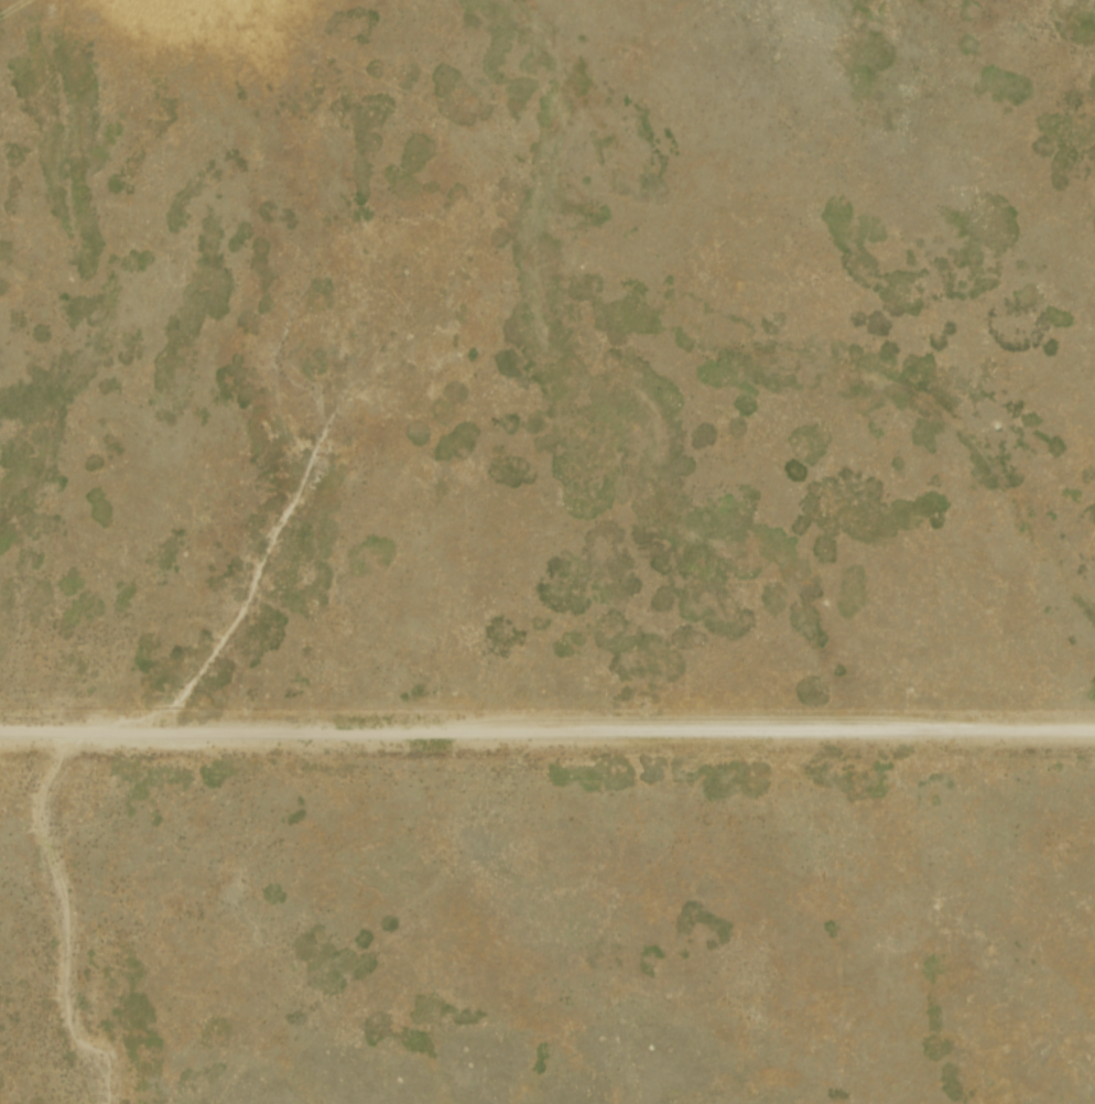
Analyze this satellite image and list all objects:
road: (547, 730)

